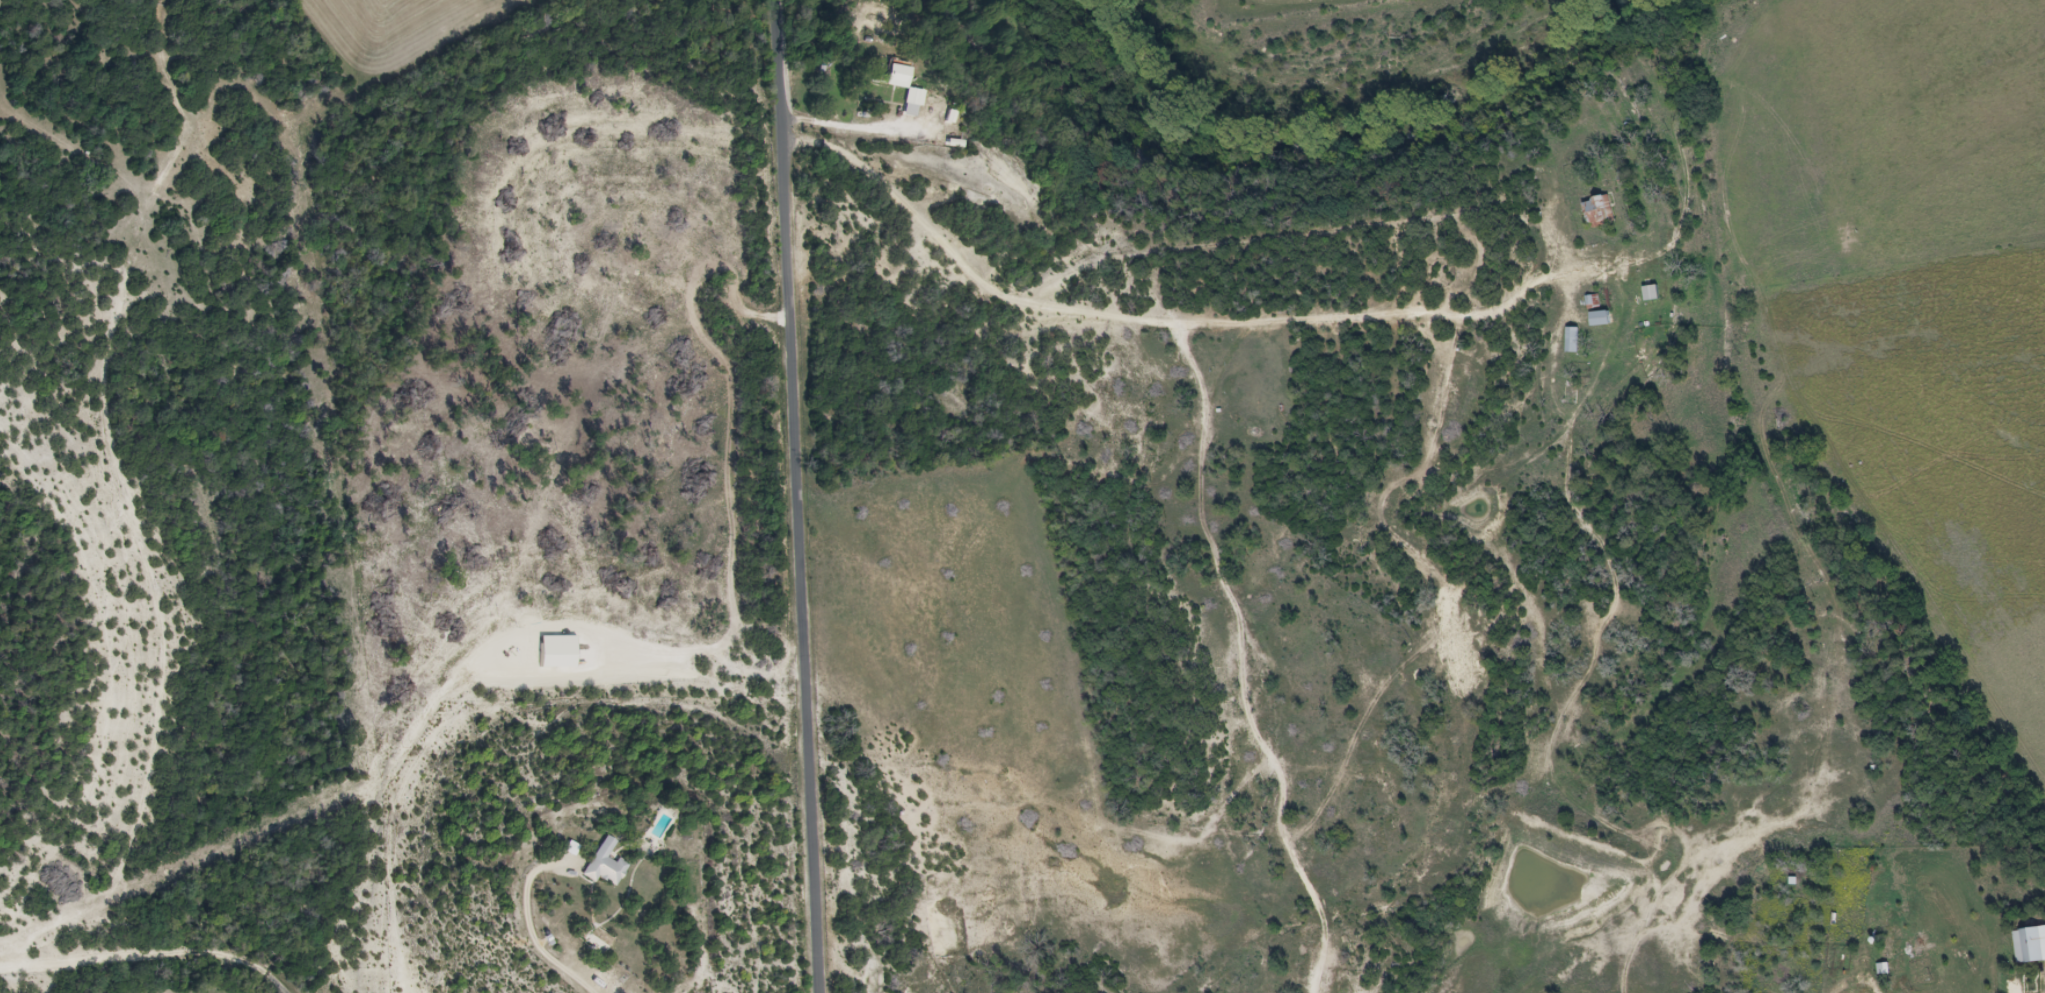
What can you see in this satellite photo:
road: (848, 124)
building: (1598, 211)
building: (1651, 294)
building: (1600, 319)
road: (1158, 321)
building: (1572, 341)
building: (1570, 396)
road: (135, 446)
road: (796, 496)
building: (605, 866)
road: (528, 927)
building: (600, 940)
building: (2033, 944)
road: (207, 951)
road: (57, 963)

